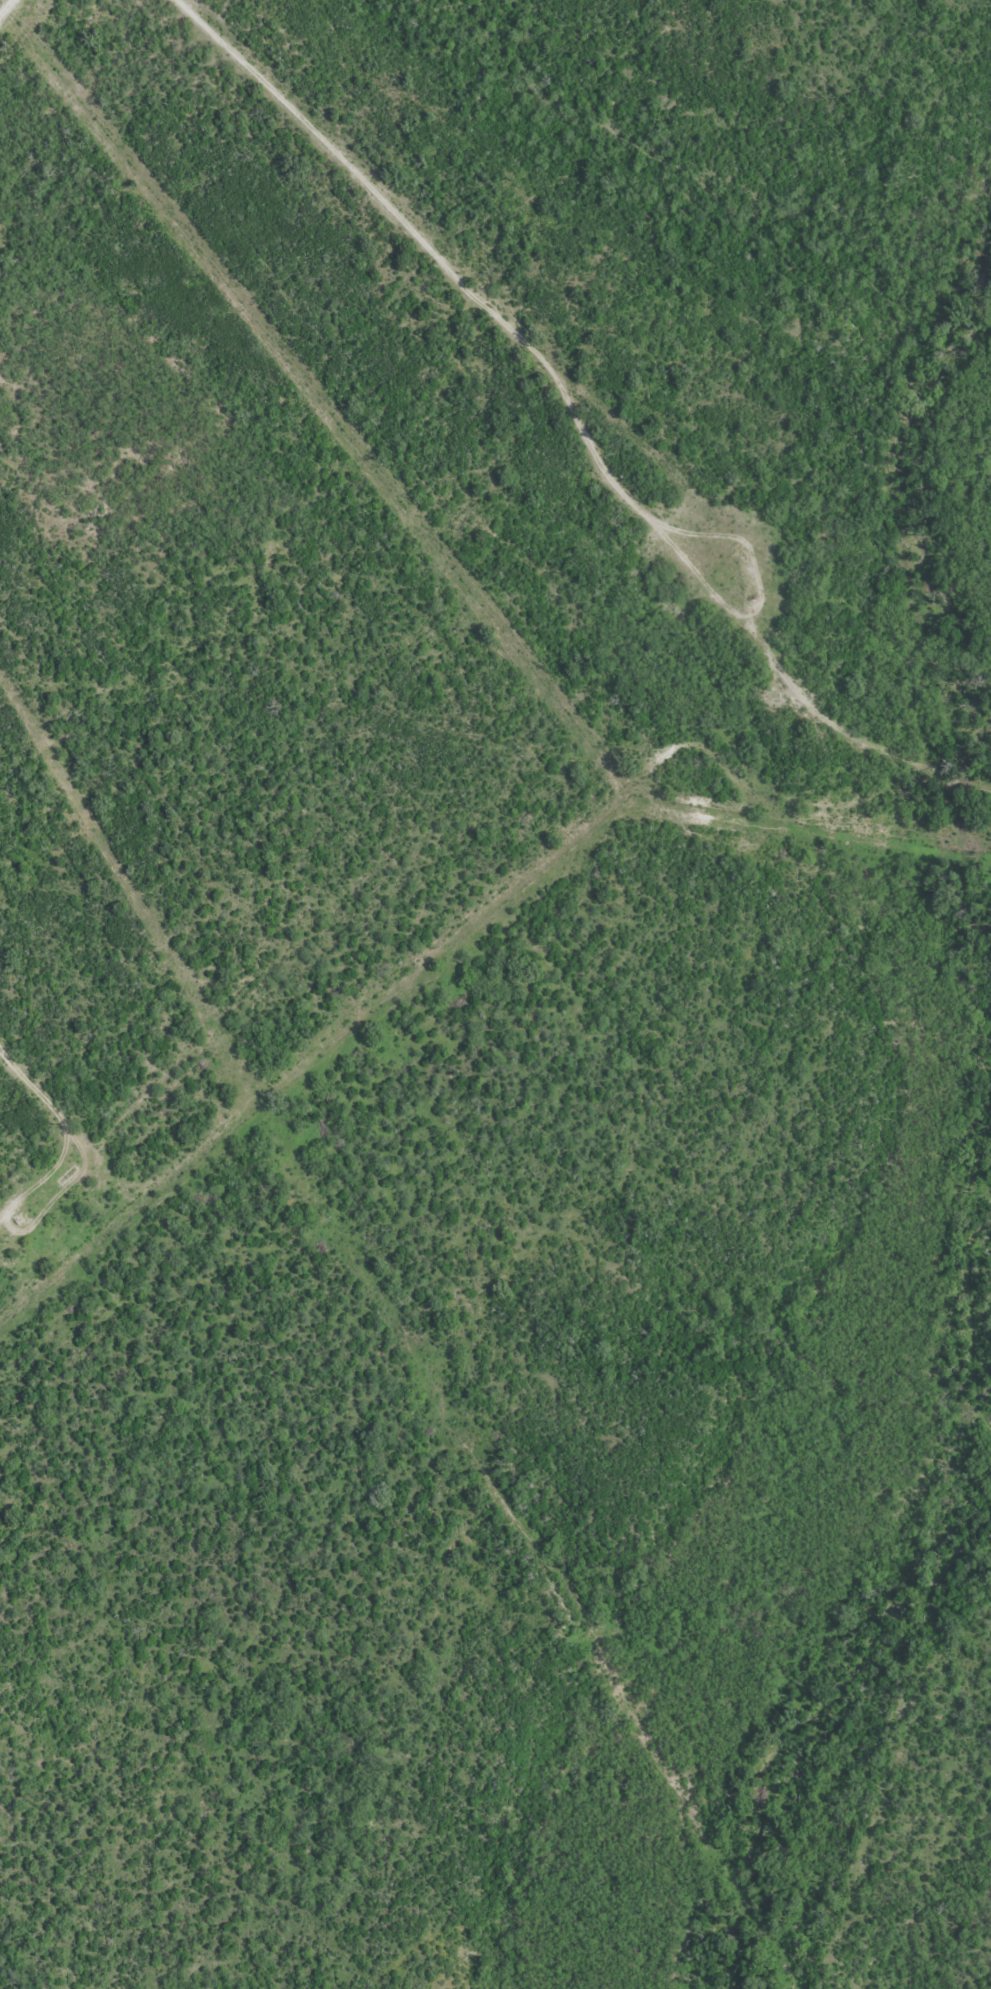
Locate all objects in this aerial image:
road: (8, 9)
road: (572, 418)

